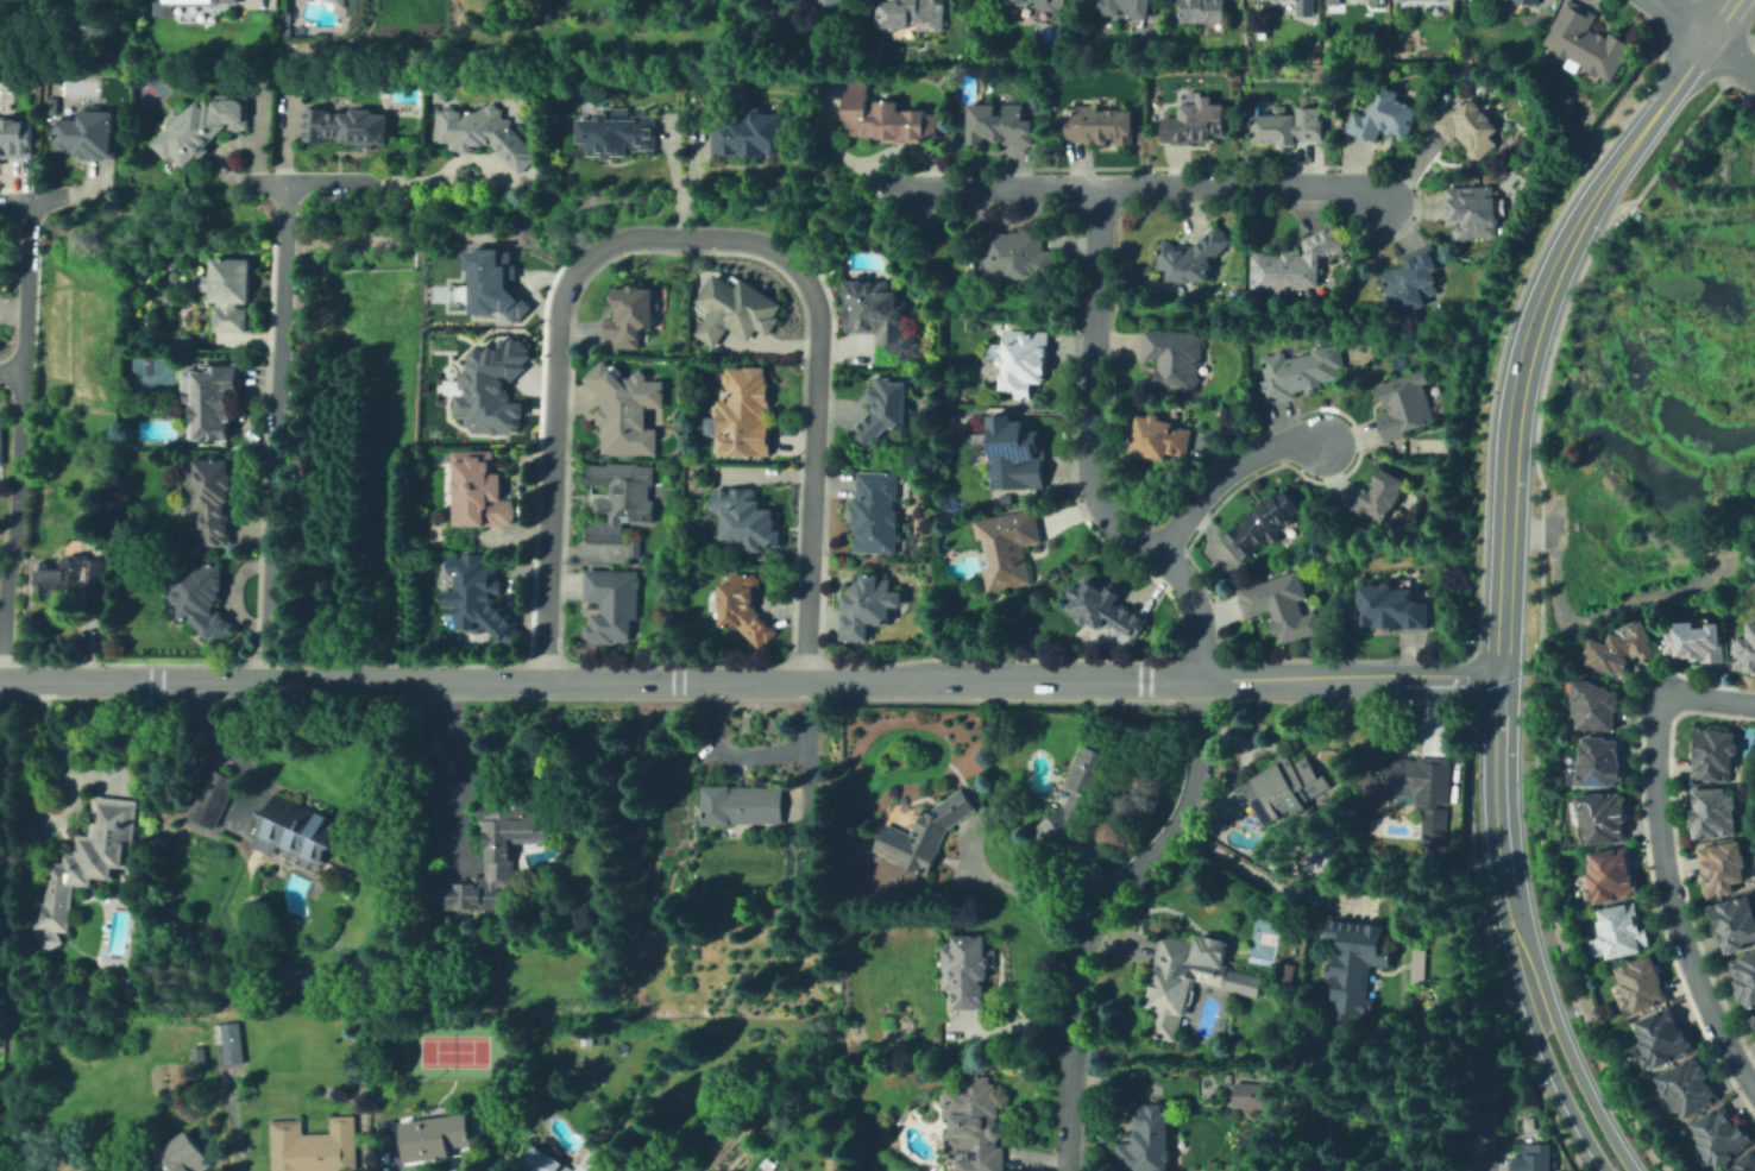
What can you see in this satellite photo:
building: (1530, 0)
building: (1536, 0)
building: (1333, 1)
building: (1379, 1)
building: (831, 2)
building: (199, 4)
building: (1048, 4)
building: (1288, 6)
building: (1130, 7)
building: (1303, 7)
building: (1206, 11)
building: (914, 14)
road: (1723, 20)
road: (1705, 37)
park: (1145, 38)
building: (1589, 39)
park: (150, 90)
building: (52, 106)
building: (1383, 113)
building: (887, 118)
building: (998, 124)
building: (1099, 124)
building: (1196, 125)
building: (348, 126)
building: (1470, 126)
building: (205, 127)
building: (1290, 128)
building: (485, 131)
building: (15, 134)
building: (92, 134)
building: (619, 134)
building: (750, 134)
road: (313, 180)
road: (1138, 183)
road: (48, 200)
building: (1472, 209)
building: (1015, 254)
building: (1190, 257)
building: (1296, 263)
building: (1413, 278)
building: (492, 281)
building: (201, 282)
building: (233, 295)
building: (736, 310)
building: (631, 315)
building: (879, 317)
road: (1529, 333)
building: (183, 342)
road: (555, 342)
building: (1023, 357)
building: (1175, 358)
road: (11, 372)
building: (1297, 372)
park: (147, 374)
building: (491, 388)
building: (210, 399)
building: (1404, 403)
building: (627, 407)
building: (744, 411)
building: (885, 415)
road: (19, 424)
road: (276, 429)
building: (1160, 437)
building: (1, 441)
road: (1088, 453)
building: (1015, 459)
road: (1222, 471)
road: (810, 479)
building: (482, 491)
building: (1382, 496)
building: (1005, 499)
building: (216, 500)
building: (624, 500)
building: (880, 514)
crop: (4, 517)
building: (747, 520)
building: (1259, 524)
building: (1009, 547)
building: (635, 549)
building: (81, 581)
building: (476, 602)
building: (207, 603)
building: (616, 604)
building: (1281, 605)
building: (870, 607)
building: (1394, 607)
building: (1109, 609)
building: (748, 610)
building: (1699, 641)
building: (1623, 649)
building: (1747, 650)
road: (748, 680)
building: (1597, 706)
building: (1717, 753)
building: (1603, 762)
building: (1288, 788)
building: (1419, 789)
building: (216, 798)
building: (1080, 798)
building: (742, 805)
building: (1712, 813)
building: (1603, 818)
building: (296, 827)
building: (800, 835)
building: (927, 835)
road: (1502, 851)
building: (499, 854)
road: (1663, 860)
building: (87, 864)
building: (1722, 869)
building: (1611, 875)
road: (1260, 877)
road: (1023, 893)
road: (1095, 909)
building: (1735, 923)
road: (10, 924)
building: (1625, 931)
building: (114, 934)
park: (1264, 938)
park: (10, 939)
building: (1358, 965)
building: (1421, 965)
building: (965, 972)
building: (1745, 976)
building: (1191, 977)
building: (1643, 986)
building: (130, 988)
building: (1754, 1014)
building: (1665, 1037)
building: (586, 1040)
building: (232, 1041)
park: (452, 1050)
building: (200, 1056)
building: (1690, 1088)
road: (1586, 1094)
building: (1254, 1096)
road: (1564, 1097)
building: (970, 1122)
road: (232, 1123)
building: (439, 1134)
building: (1722, 1134)
building: (1150, 1142)
building: (314, 1146)
building: (184, 1156)
road: (1490, 1156)
building: (1533, 1158)
building: (591, 1160)
building: (546, 1161)
building: (766, 1164)
building: (1747, 1164)

